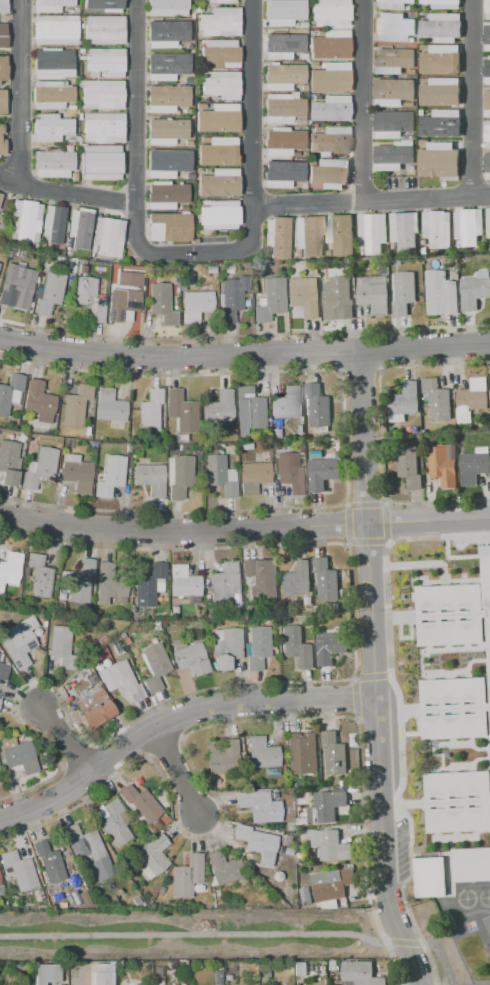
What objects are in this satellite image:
building: (222, 1)
building: (442, 3)
building: (393, 4)
building: (50, 5)
building: (104, 5)
building: (4, 6)
building: (167, 8)
building: (198, 9)
building: (487, 9)
building: (75, 10)
building: (70, 11)
building: (282, 13)
building: (329, 13)
building: (81, 19)
building: (220, 22)
building: (81, 25)
building: (440, 26)
building: (394, 28)
building: (104, 30)
building: (55, 31)
building: (167, 33)
building: (4, 36)
building: (488, 36)
building: (329, 44)
building: (189, 46)
building: (282, 46)
building: (81, 51)
building: (220, 54)
building: (443, 57)
building: (82, 58)
building: (393, 59)
building: (105, 62)
building: (53, 64)
building: (166, 66)
building: (3, 68)
building: (487, 71)
building: (283, 76)
building: (328, 76)
building: (187, 80)
building: (80, 83)
building: (221, 85)
building: (392, 91)
building: (438, 91)
road: (15, 92)
building: (102, 94)
building: (51, 95)
road: (470, 97)
building: (166, 98)
building: (487, 99)
road: (360, 100)
road: (134, 101)
building: (2, 102)
road: (251, 102)
building: (409, 104)
building: (197, 106)
building: (204, 106)
building: (283, 109)
building: (329, 110)
building: (187, 111)
building: (421, 112)
building: (79, 118)
building: (220, 119)
building: (440, 123)
building: (392, 124)
building: (103, 127)
building: (1, 129)
building: (51, 129)
building: (166, 131)
building: (487, 134)
building: (77, 138)
building: (202, 139)
building: (330, 141)
building: (282, 142)
building: (188, 143)
building: (2, 147)
building: (220, 151)
building: (394, 155)
building: (437, 157)
building: (101, 162)
building: (167, 163)
building: (52, 164)
building: (486, 165)
building: (411, 167)
building: (282, 174)
building: (329, 174)
building: (74, 177)
building: (189, 177)
building: (219, 183)
road: (66, 193)
building: (0, 195)
building: (166, 195)
road: (370, 200)
building: (183, 208)
building: (218, 215)
building: (24, 220)
building: (488, 222)
building: (53, 223)
building: (469, 226)
building: (79, 227)
building: (169, 227)
building: (437, 228)
building: (404, 231)
building: (372, 232)
building: (340, 234)
building: (309, 235)
building: (276, 236)
building: (107, 238)
building: (194, 242)
building: (67, 243)
building: (41, 247)
building: (488, 247)
building: (457, 248)
building: (426, 250)
building: (361, 252)
road: (189, 253)
building: (296, 253)
building: (329, 253)
building: (264, 258)
building: (464, 258)
building: (396, 262)
building: (346, 263)
building: (81, 269)
building: (210, 269)
building: (229, 269)
building: (245, 269)
building: (313, 269)
building: (114, 270)
building: (383, 270)
building: (111, 277)
building: (189, 280)
building: (182, 285)
building: (16, 286)
building: (146, 286)
building: (141, 287)
building: (403, 292)
building: (440, 292)
building: (473, 292)
building: (49, 293)
building: (373, 293)
building: (304, 295)
building: (231, 297)
building: (88, 299)
building: (270, 299)
building: (337, 299)
building: (162, 304)
building: (122, 305)
building: (196, 305)
road: (244, 336)
road: (244, 353)
building: (489, 386)
building: (10, 393)
building: (437, 399)
building: (472, 399)
building: (39, 401)
building: (403, 402)
building: (287, 403)
building: (76, 405)
building: (318, 405)
building: (109, 406)
building: (219, 407)
building: (249, 410)
building: (171, 411)
building: (182, 411)
building: (149, 412)
building: (276, 424)
building: (86, 431)
building: (275, 433)
building: (178, 437)
building: (338, 446)
building: (275, 447)
building: (300, 449)
building: (316, 453)
building: (337, 454)
building: (325, 455)
building: (60, 457)
building: (264, 458)
building: (9, 462)
building: (443, 463)
building: (474, 465)
building: (409, 467)
building: (40, 468)
building: (77, 473)
building: (290, 473)
building: (321, 473)
building: (219, 475)
building: (111, 476)
building: (178, 476)
building: (253, 477)
building: (150, 478)
road: (244, 529)
flagpole: (458, 541)
building: (10, 569)
building: (39, 577)
building: (296, 578)
building: (326, 579)
building: (80, 581)
building: (109, 582)
building: (183, 582)
building: (259, 582)
building: (149, 585)
building: (222, 585)
building: (308, 599)
building: (60, 604)
building: (316, 608)
building: (174, 610)
building: (455, 610)
building: (307, 617)
building: (268, 620)
building: (155, 626)
building: (121, 636)
building: (103, 640)
building: (331, 641)
building: (20, 642)
building: (115, 644)
building: (63, 645)
building: (296, 646)
building: (257, 647)
building: (225, 648)
building: (275, 648)
building: (118, 650)
building: (188, 656)
building: (0, 658)
building: (155, 668)
road: (373, 670)
building: (3, 671)
building: (120, 681)
building: (88, 698)
building: (0, 701)
building: (453, 707)
building: (96, 714)
road: (174, 718)
road: (65, 741)
building: (302, 753)
building: (337, 754)
building: (18, 755)
building: (222, 756)
building: (263, 756)
road: (176, 772)
building: (299, 782)
building: (343, 783)
building: (352, 788)
building: (307, 793)
building: (301, 794)
building: (457, 801)
building: (140, 802)
building: (326, 805)
building: (259, 806)
building: (301, 821)
building: (340, 821)
building: (347, 822)
building: (115, 823)
building: (142, 823)
building: (157, 825)
building: (291, 829)
building: (287, 840)
building: (257, 843)
building: (86, 844)
building: (330, 844)
building: (300, 849)
building: (285, 851)
building: (109, 852)
building: (152, 856)
building: (171, 859)
building: (48, 862)
building: (471, 864)
building: (225, 868)
building: (19, 870)
building: (166, 870)
building: (187, 876)
building: (429, 877)
building: (143, 880)
building: (0, 884)
building: (332, 885)
building: (66, 886)
building: (1, 891)
building: (118, 891)
building: (40, 894)
building: (305, 895)
building: (56, 897)
building: (75, 898)
building: (84, 899)
building: (13, 901)
building: (213, 901)
park: (188, 934)
road: (192, 934)
road: (393, 942)
road: (411, 942)
track: (474, 944)
road: (441, 956)
building: (333, 962)
building: (313, 967)
building: (300, 968)
building: (120, 969)
building: (46, 973)
building: (360, 973)
building: (76, 974)
building: (102, 974)
building: (264, 975)
building: (217, 977)
building: (227, 977)
building: (140, 984)
building: (296, 984)

